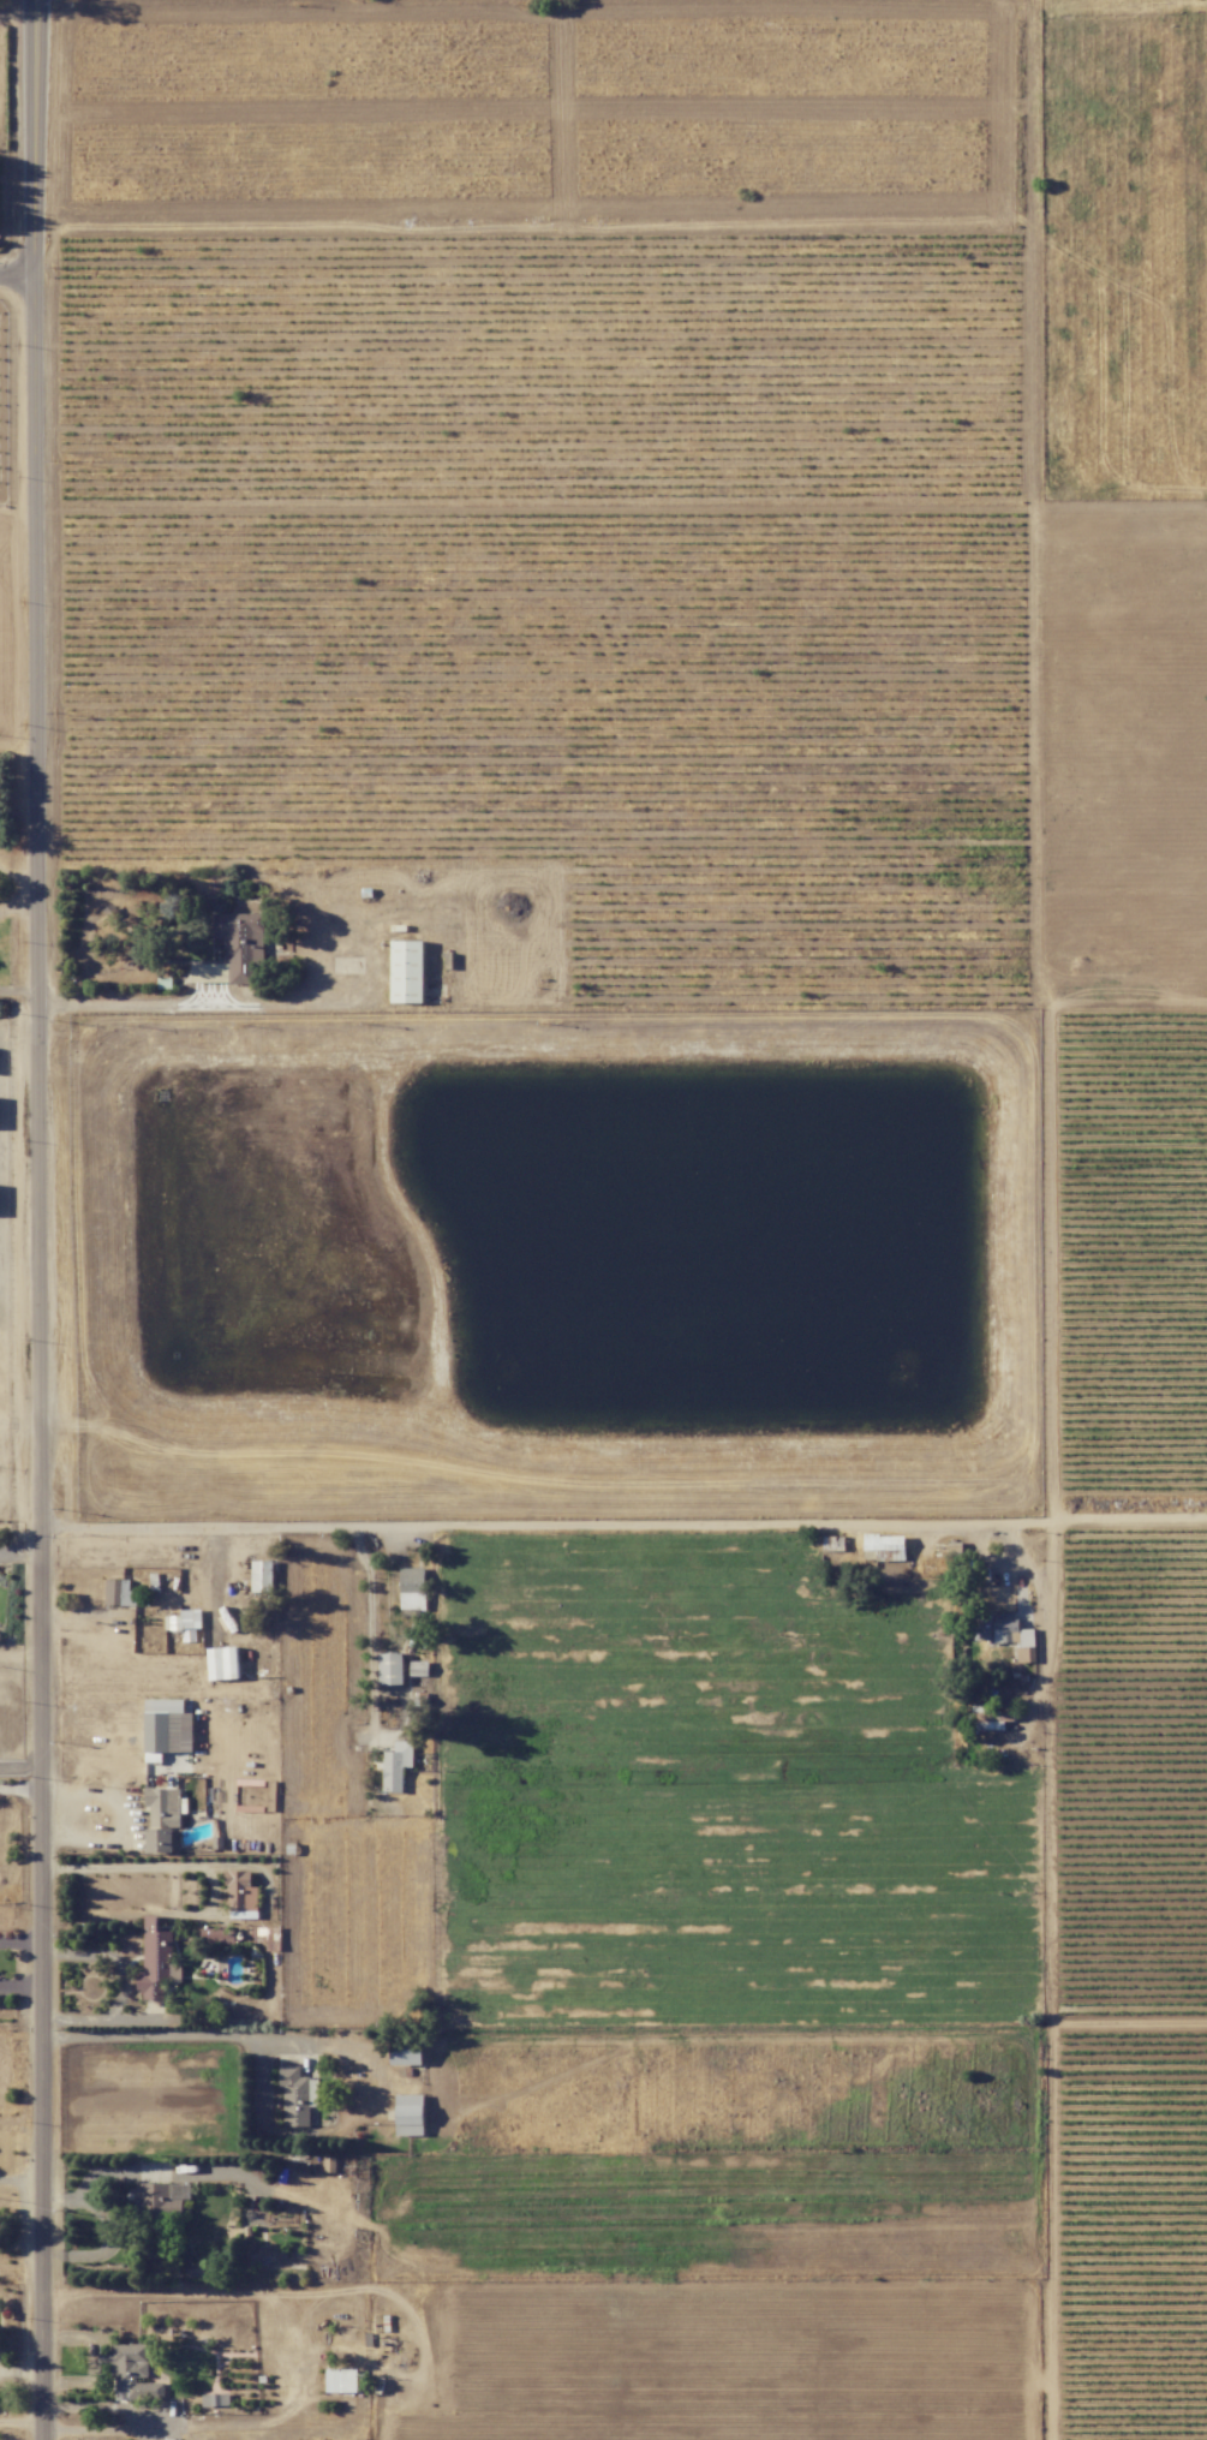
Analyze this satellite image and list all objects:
road: (16, 280)
road: (17, 912)
building: (240, 945)
building: (406, 972)
road: (17, 996)
road: (137, 1006)
road: (36, 1219)
crop: (1125, 1261)
road: (622, 1523)
building: (885, 1547)
road: (19, 1551)
building: (262, 1576)
building: (412, 1588)
building: (119, 1593)
building: (184, 1623)
road: (372, 1627)
building: (1003, 1633)
road: (19, 1655)
building: (222, 1663)
building: (390, 1669)
building: (418, 1669)
building: (988, 1718)
building: (167, 1737)
building: (396, 1765)
road: (19, 1766)
road: (19, 1786)
road: (123, 1819)
building: (217, 1935)
building: (265, 1937)
building: (156, 1962)
road: (180, 2036)
building: (406, 2052)
building: (297, 2095)
building: (408, 2114)
building: (154, 2217)
building: (131, 2373)
building: (341, 2380)
building: (215, 2399)

